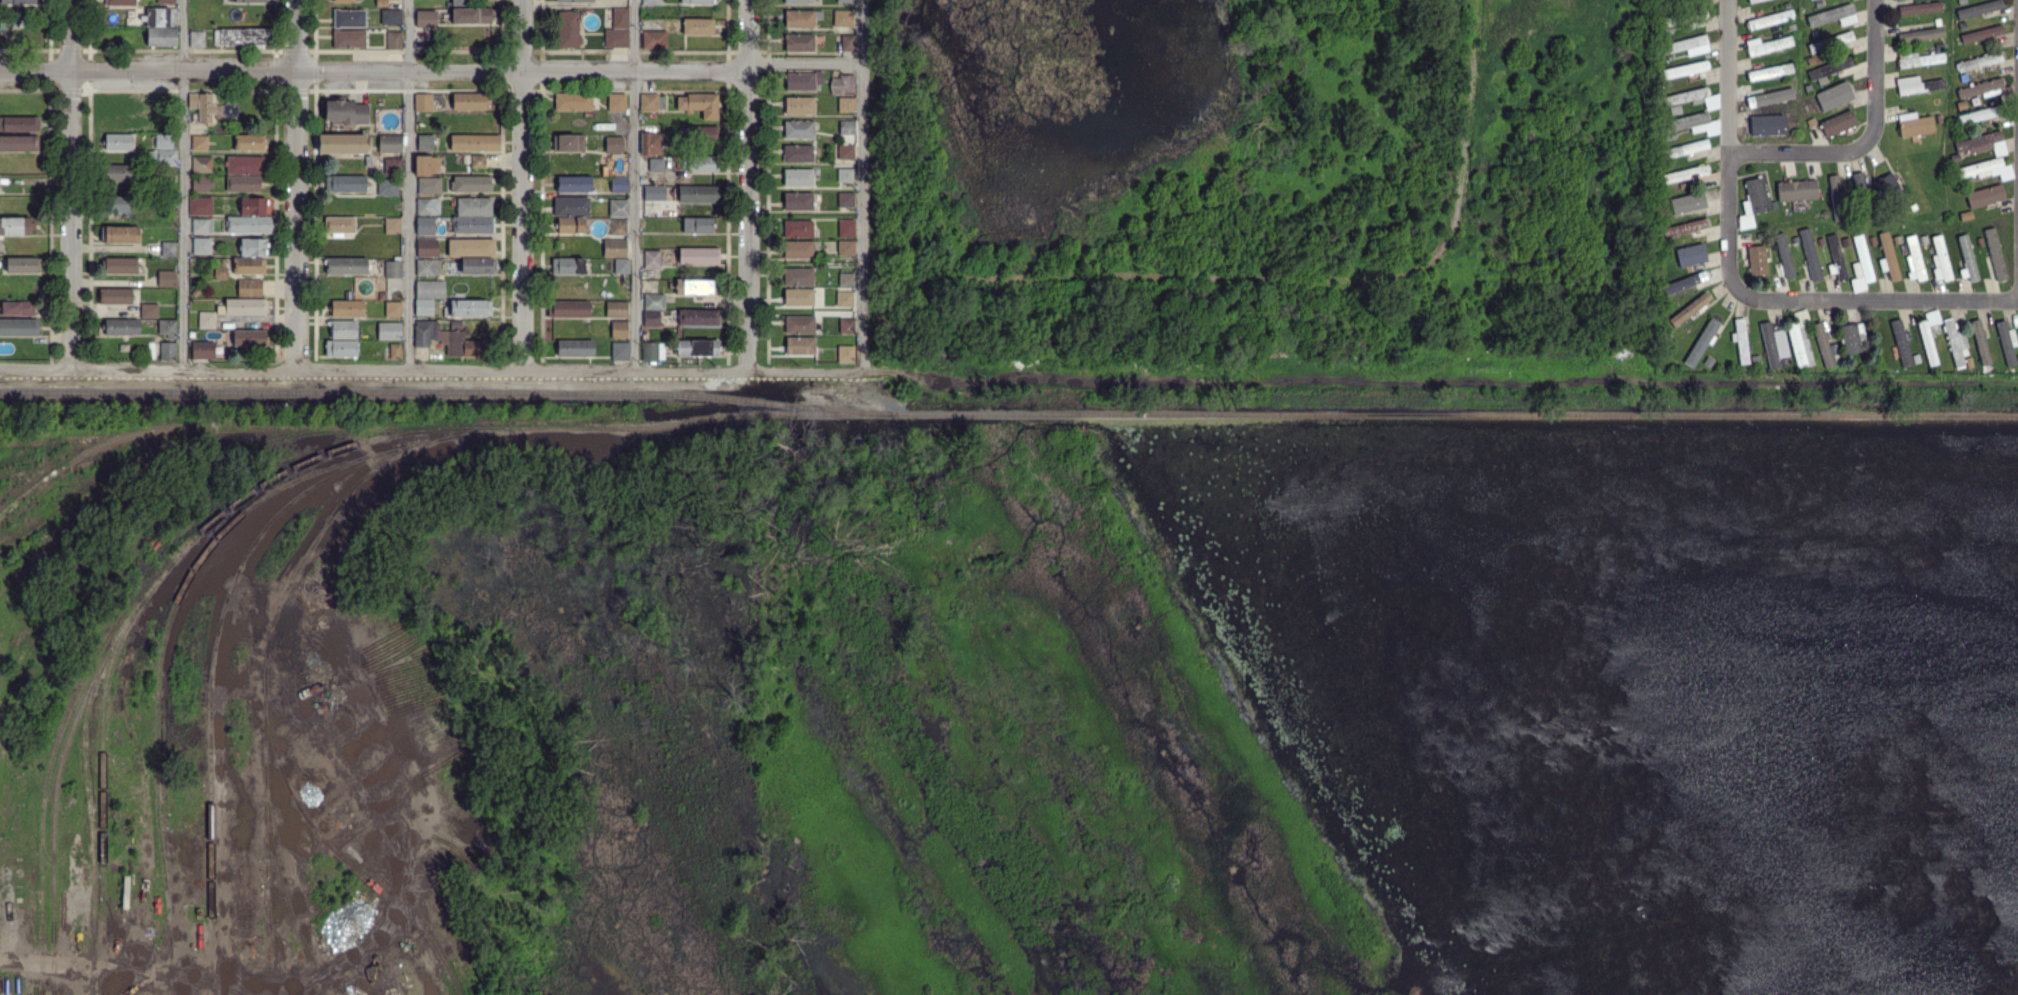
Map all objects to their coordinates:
building: (1665, 0)
building: (251, 1)
building: (344, 1)
building: (576, 1)
building: (698, 1)
building: (1754, 1)
building: (20, 2)
building: (167, 2)
building: (653, 2)
building: (799, 2)
building: (845, 2)
building: (1960, 2)
building: (121, 3)
building: (460, 3)
building: (1817, 3)
building: (1786, 6)
building: (1918, 7)
building: (1659, 9)
building: (1978, 9)
building: (423, 14)
building: (1829, 15)
building: (157, 17)
building: (392, 17)
building: (472, 17)
building: (1683, 17)
building: (349, 18)
building: (621, 18)
building: (800, 19)
building: (845, 20)
building: (1769, 20)
building: (16, 21)
building: (1937, 23)
building: (1961, 26)
building: (699, 27)
building: (1790, 28)
building: (420, 30)
building: (568, 30)
building: (1667, 31)
road: (746, 34)
building: (1813, 34)
building: (1919, 35)
building: (1979, 35)
building: (162, 37)
building: (246, 38)
building: (616, 38)
building: (349, 39)
building: (198, 40)
building: (394, 40)
building: (654, 40)
building: (1830, 42)
building: (800, 43)
building: (846, 43)
building: (1683, 45)
building: (1937, 45)
building: (1769, 46)
building: (1789, 57)
building: (1669, 58)
road: (804, 61)
building: (1809, 61)
building: (1920, 61)
building: (1978, 62)
road: (373, 69)
building: (1829, 69)
building: (1683, 70)
building: (1769, 73)
building: (1962, 78)
building: (803, 81)
building: (1791, 82)
building: (843, 84)
building: (1666, 85)
building: (1919, 87)
building: (1807, 89)
building: (1979, 89)
building: (1829, 95)
building: (1683, 97)
building: (1769, 99)
building: (119, 101)
building: (470, 101)
building: (573, 102)
building: (653, 102)
building: (426, 103)
building: (617, 103)
building: (1963, 103)
building: (700, 105)
building: (846, 105)
building: (800, 106)
building: (204, 107)
building: (344, 112)
building: (1666, 112)
building: (1787, 114)
building: (1979, 115)
building: (1938, 119)
building: (112, 123)
building: (1684, 123)
building: (1810, 123)
building: (20, 124)
building: (1837, 124)
building: (1769, 127)
building: (1914, 127)
building: (847, 128)
building: (799, 130)
building: (703, 135)
building: (1669, 136)
road: (1866, 140)
building: (390, 141)
building: (164, 142)
building: (250, 142)
building: (427, 142)
building: (569, 142)
building: (18, 143)
building: (119, 143)
building: (200, 143)
building: (475, 143)
building: (651, 143)
building: (1977, 143)
building: (341, 144)
building: (614, 144)
building: (1684, 149)
building: (846, 152)
building: (798, 153)
building: (164, 158)
building: (1954, 158)
building: (369, 162)
building: (476, 162)
building: (202, 164)
building: (702, 164)
building: (245, 165)
building: (427, 165)
building: (392, 166)
building: (656, 166)
building: (1665, 166)
building: (1984, 170)
building: (119, 173)
building: (845, 175)
building: (1691, 175)
building: (798, 178)
building: (1858, 182)
road: (71, 183)
road: (182, 184)
building: (202, 184)
building: (243, 184)
road: (296, 184)
building: (346, 184)
road: (409, 184)
building: (471, 184)
road: (524, 184)
building: (574, 184)
building: (619, 184)
road: (633, 185)
road: (862, 185)
building: (1957, 185)
building: (429, 186)
building: (1681, 186)
building: (388, 188)
building: (165, 189)
building: (1799, 190)
building: (659, 192)
building: (1893, 193)
building: (699, 194)
building: (1755, 195)
building: (1835, 196)
building: (1984, 196)
building: (846, 200)
building: (798, 202)
building: (1685, 202)
building: (114, 204)
building: (428, 206)
building: (1773, 206)
building: (202, 207)
building: (254, 207)
building: (474, 207)
building: (572, 207)
building: (619, 209)
building: (1668, 217)
building: (1846, 219)
road: (747, 220)
building: (249, 225)
building: (473, 225)
building: (698, 225)
building: (16, 226)
building: (200, 226)
building: (339, 226)
building: (393, 226)
building: (425, 226)
building: (570, 226)
building: (618, 227)
building: (846, 228)
building: (1684, 228)
building: (798, 229)
building: (120, 235)
building: (1758, 236)
building: (1896, 239)
building: (1923, 240)
building: (1871, 241)
building: (1819, 242)
building: (1844, 242)
building: (1977, 242)
building: (202, 246)
building: (254, 248)
building: (428, 248)
building: (472, 248)
building: (615, 249)
building: (847, 249)
building: (170, 250)
building: (799, 250)
building: (1808, 253)
building: (1690, 255)
building: (1783, 255)
building: (699, 256)
building: (1888, 256)
building: (1940, 257)
building: (1659, 258)
building: (1836, 258)
building: (1914, 258)
building: (1967, 258)
building: (1994, 258)
building: (1862, 259)
building: (653, 260)
building: (1757, 261)
building: (23, 265)
building: (120, 266)
building: (249, 266)
building: (477, 266)
building: (568, 266)
building: (622, 266)
building: (347, 267)
building: (425, 268)
building: (394, 270)
building: (798, 277)
building: (166, 279)
building: (847, 280)
building: (1684, 283)
road: (1734, 286)
building: (431, 287)
building: (697, 287)
building: (249, 289)
building: (116, 296)
building: (799, 298)
building: (845, 299)
building: (655, 302)
building: (424, 305)
building: (243, 307)
building: (19, 308)
building: (470, 308)
building: (348, 309)
building: (394, 309)
building: (571, 309)
building: (617, 309)
building: (1688, 309)
building: (148, 310)
building: (161, 310)
building: (699, 317)
building: (652, 319)
building: (1933, 319)
building: (207, 320)
building: (848, 323)
building: (800, 325)
building: (448, 326)
building: (18, 328)
building: (121, 328)
building: (169, 329)
building: (389, 329)
building: (344, 330)
building: (619, 330)
building: (422, 333)
building: (249, 338)
building: (1849, 338)
building: (1660, 339)
building: (1703, 339)
building: (1740, 340)
building: (1979, 341)
building: (2005, 341)
building: (1900, 342)
building: (1952, 342)
building: (1926, 343)
building: (462, 344)
building: (1772, 344)
building: (1821, 344)
building: (801, 346)
building: (1799, 346)
building: (576, 348)
building: (698, 348)
building: (341, 349)
building: (204, 350)
building: (396, 351)
building: (620, 351)
building: (165, 352)
building: (653, 352)
building: (846, 354)
building: (1690, 360)
building: (1783, 362)
building: (1874, 364)
building: (1968, 364)
road: (36, 366)
road: (467, 369)
railway: (317, 392)
railway: (765, 401)
railway: (1457, 415)
railway: (435, 426)
railway: (122, 470)
railway: (70, 523)
railway: (29, 575)
railway: (183, 593)
railway: (125, 611)
railway: (266, 673)
railway: (212, 677)
railway: (70, 733)
railway: (103, 793)
railway: (90, 817)
railway: (334, 852)
railway: (282, 885)
building: (348, 915)
building: (318, 924)
railway: (272, 939)

